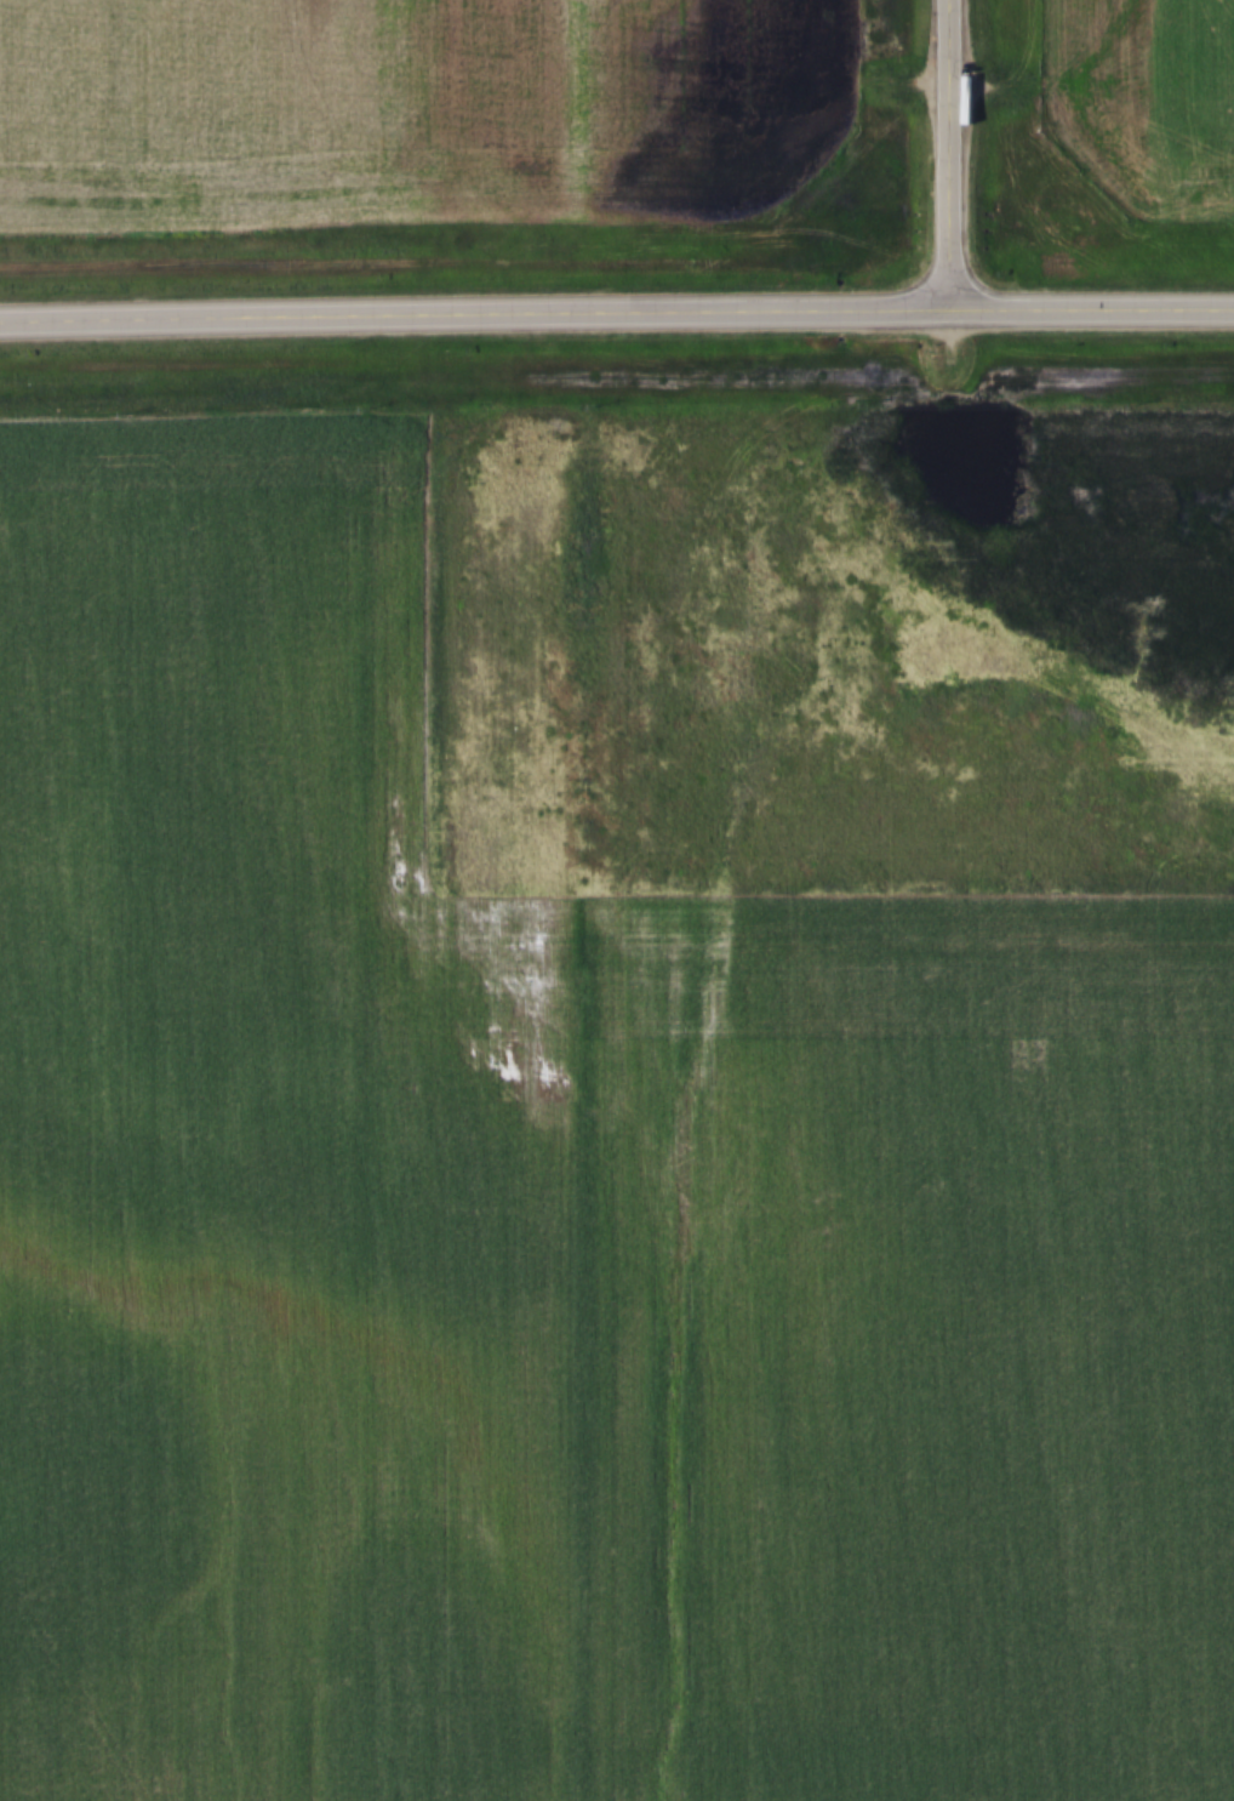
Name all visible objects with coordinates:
road: (950, 155)
road: (1092, 312)
road: (475, 329)

